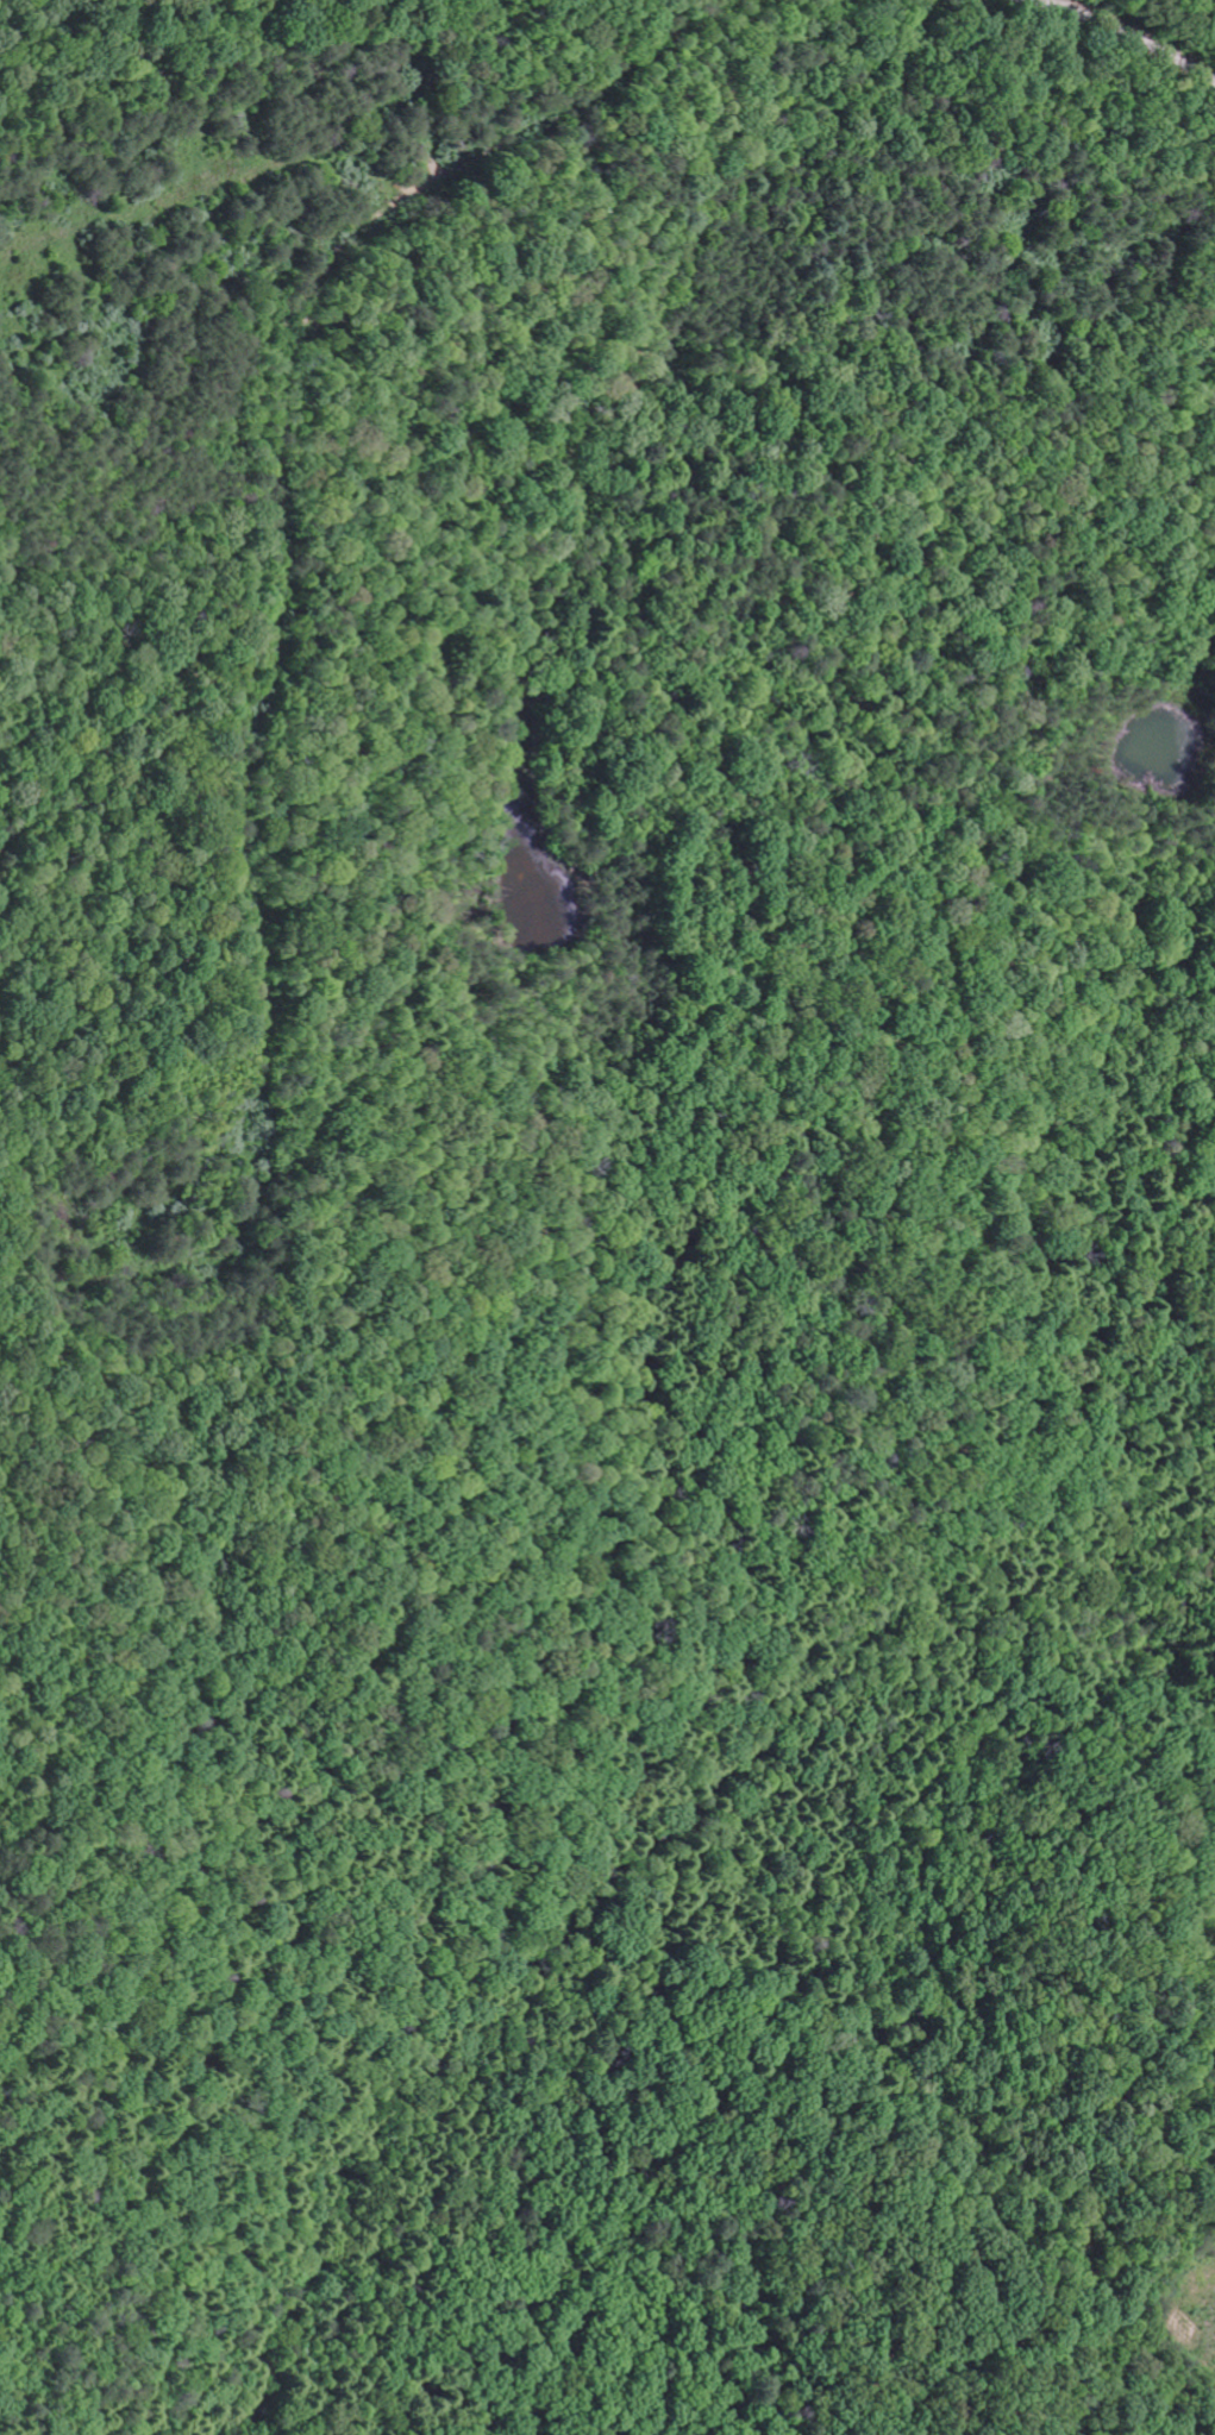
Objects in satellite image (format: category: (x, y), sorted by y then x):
road: (1132, 31)
road: (217, 332)

